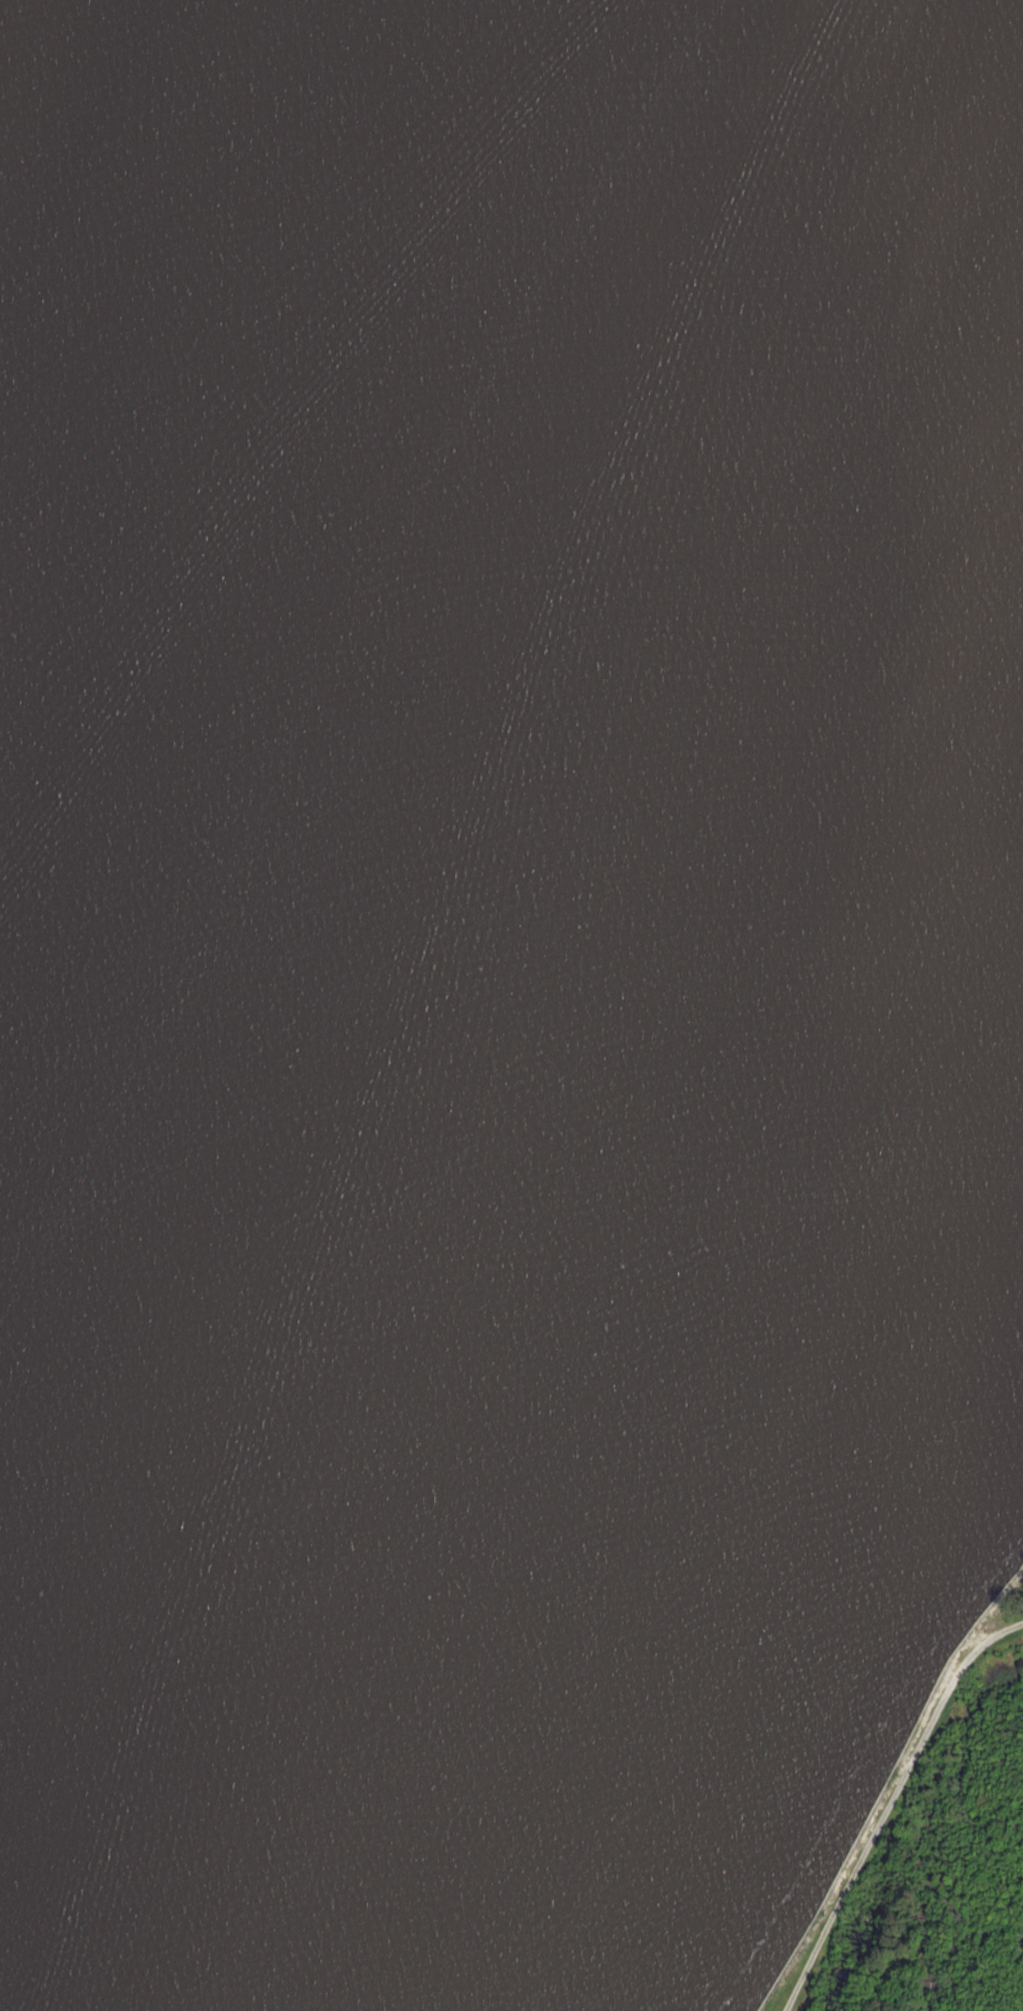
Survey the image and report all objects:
road: (890, 1804)

